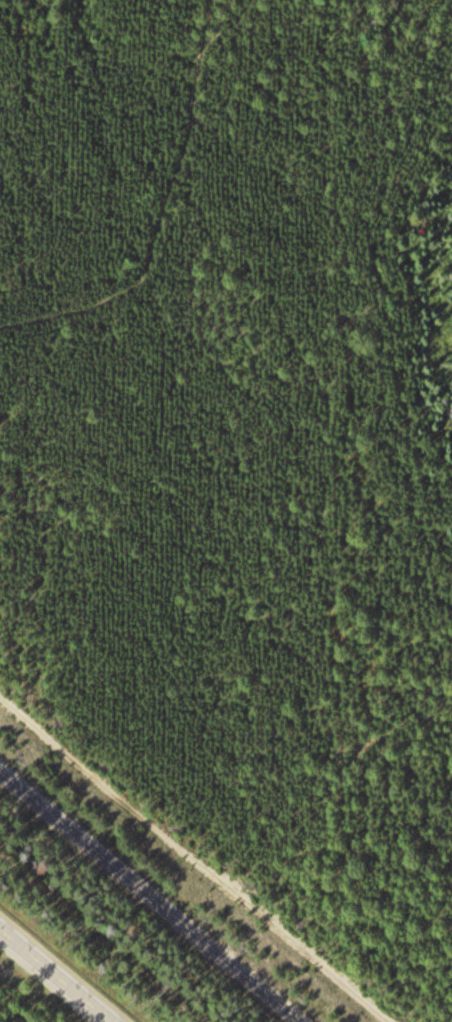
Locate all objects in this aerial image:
road: (155, 214)
road: (194, 861)
railway: (133, 910)
road: (61, 970)

